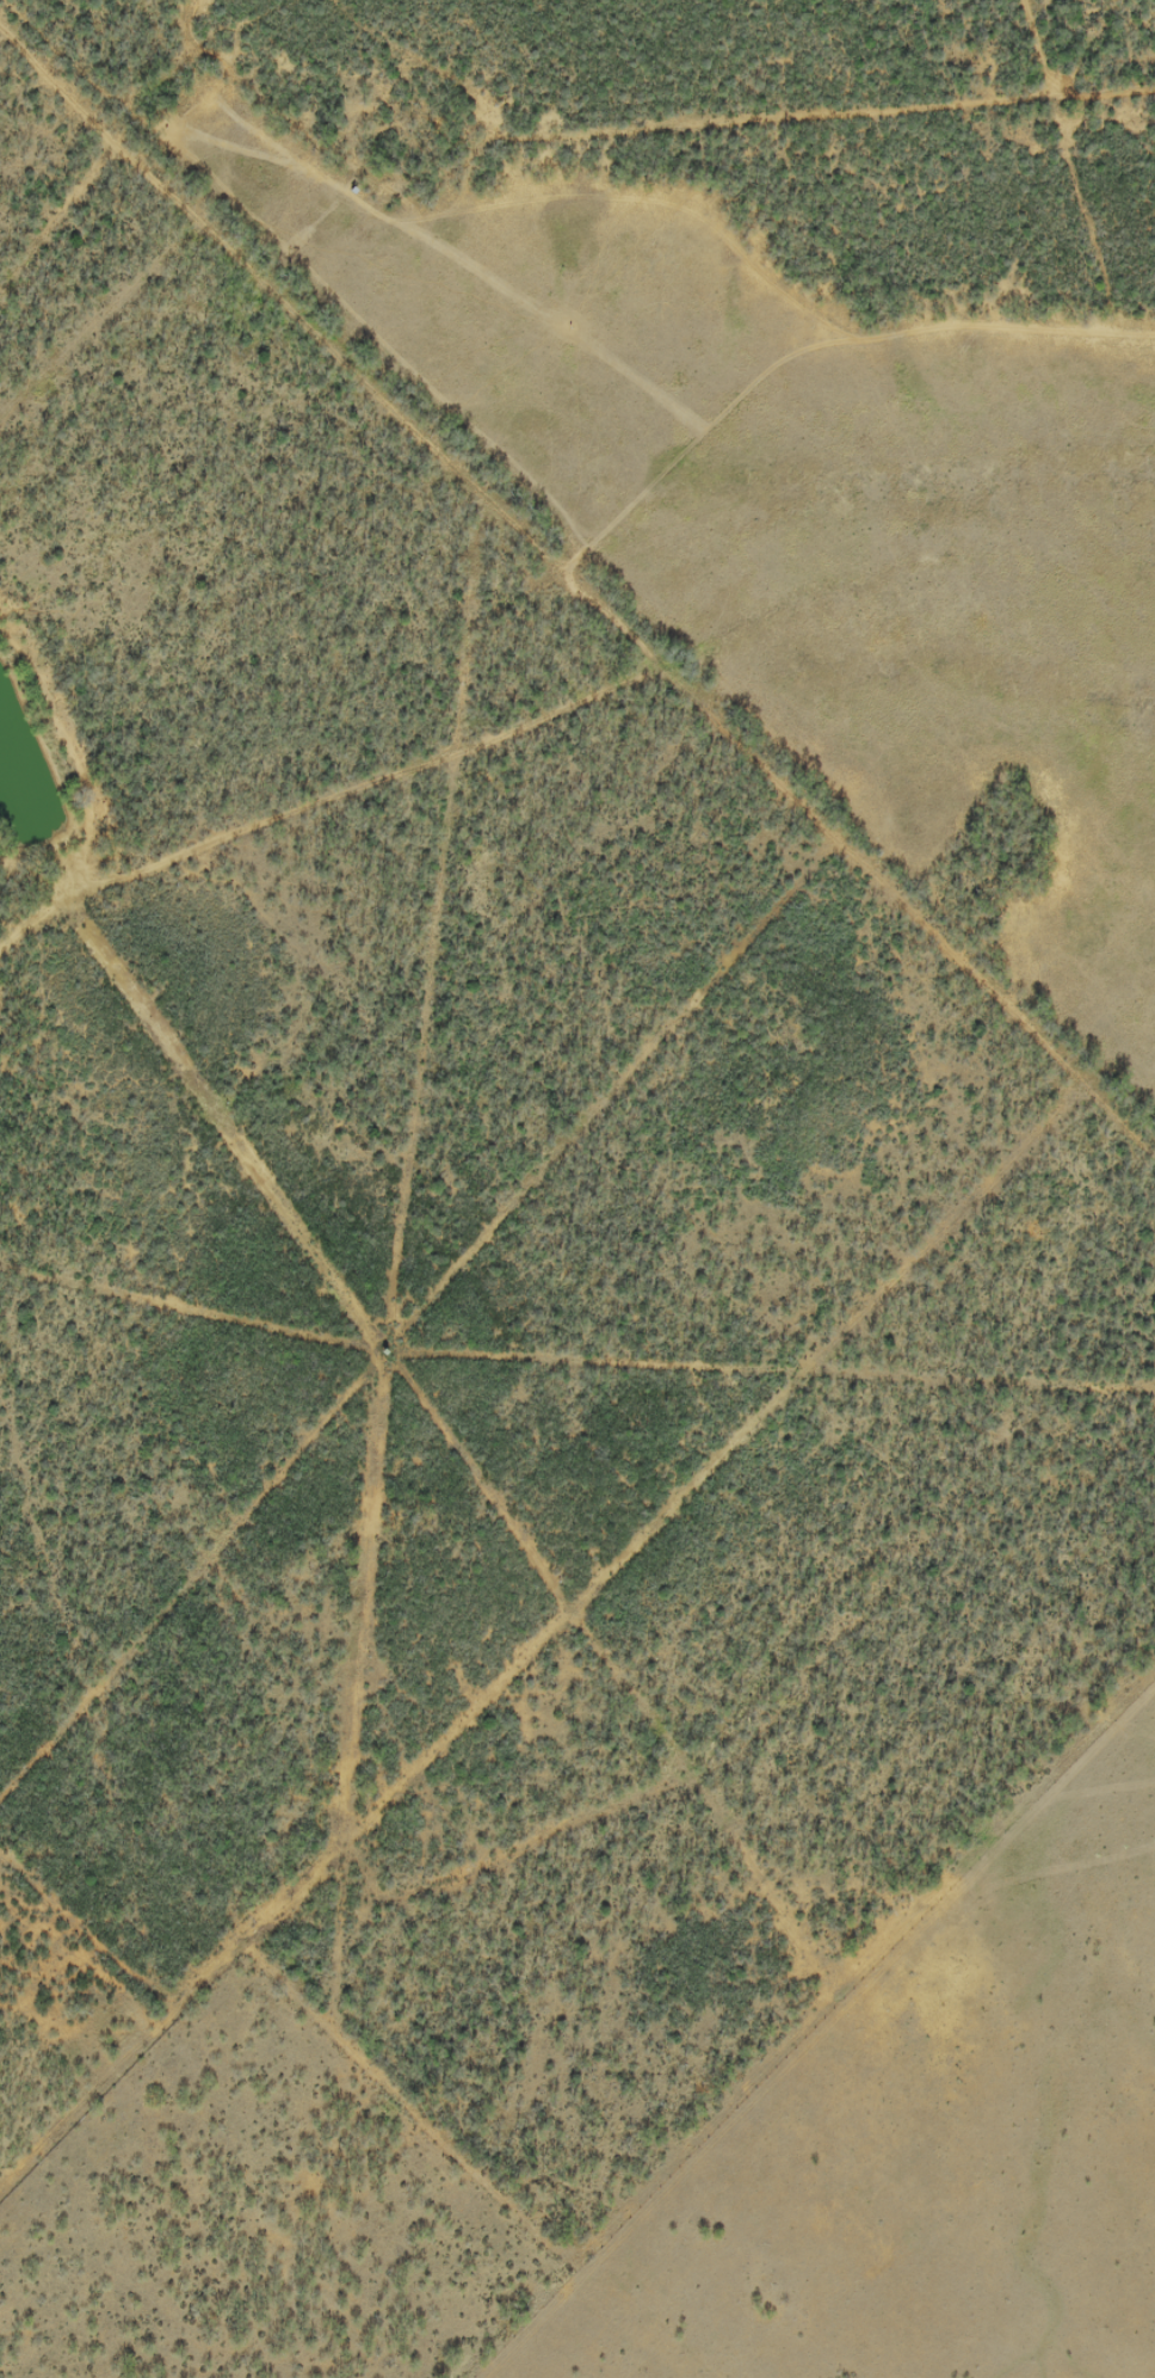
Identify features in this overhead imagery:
road: (37, 2010)

